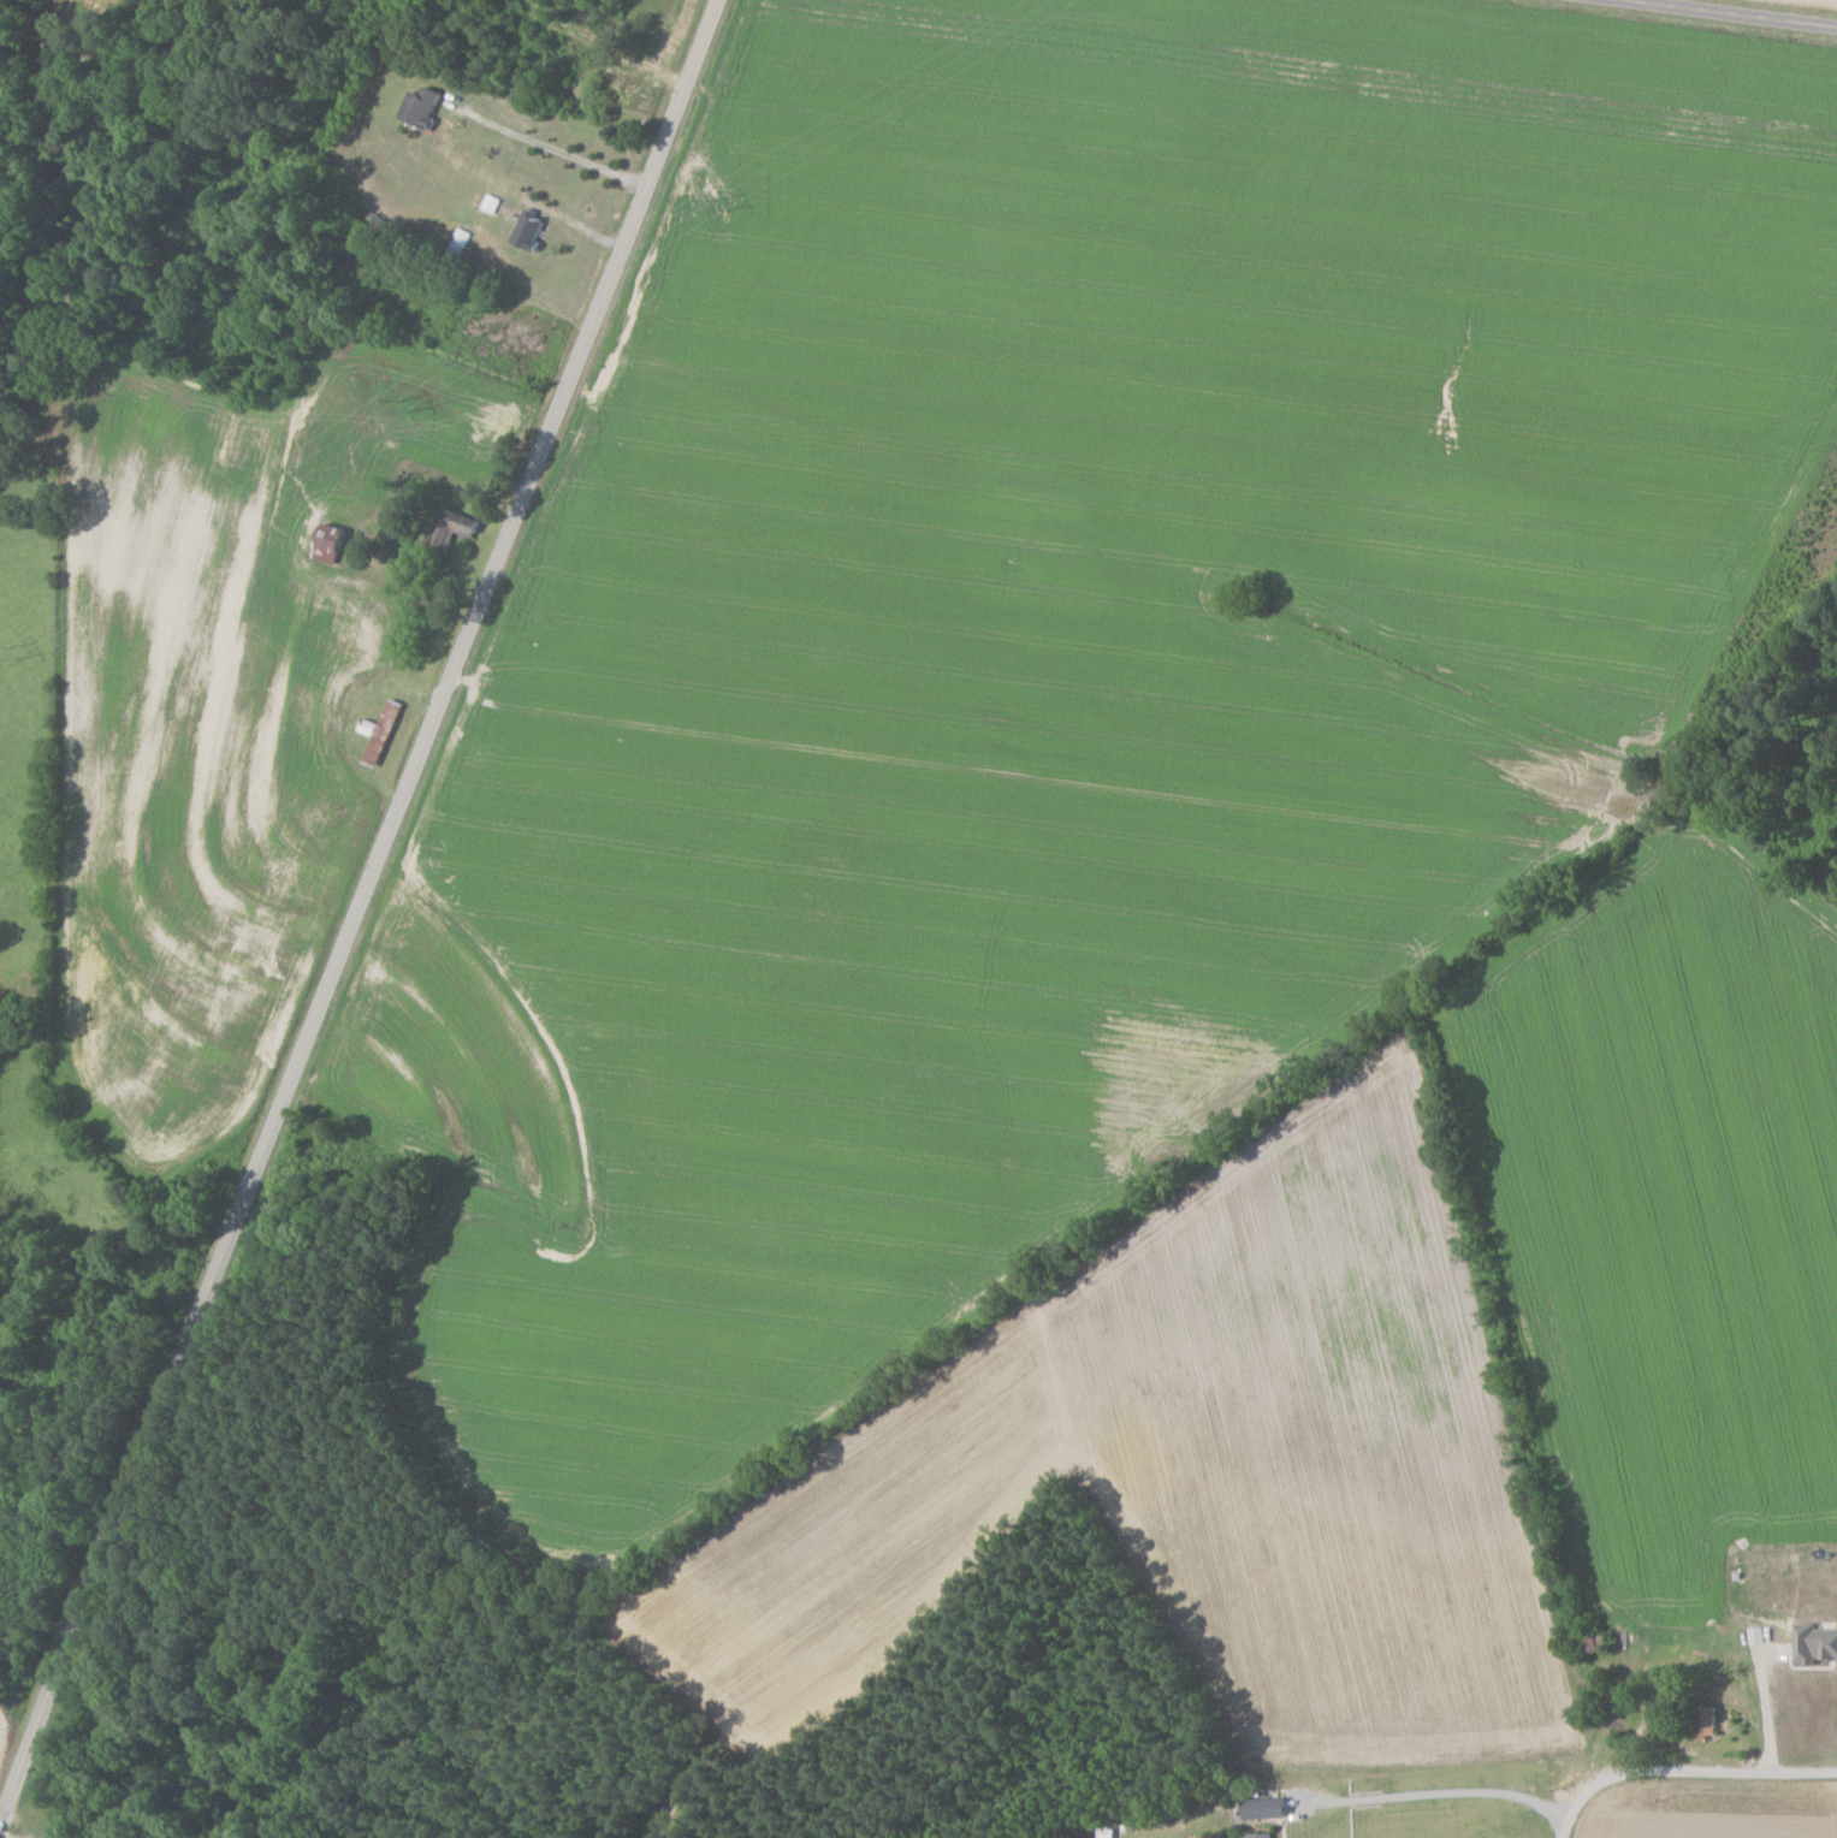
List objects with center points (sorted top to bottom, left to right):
road: (1728, 13)
building: (422, 106)
road: (546, 148)
power tower: (717, 213)
building: (529, 230)
power tower: (399, 398)
building: (451, 529)
building: (330, 542)
road: (470, 627)
power tower: (10, 651)
building: (383, 733)
road: (111, 1532)
building: (1817, 1642)
road: (1765, 1700)
building: (1707, 1720)
road: (1683, 1772)
road: (1480, 1790)
building: (1267, 1807)
building: (1264, 1834)

